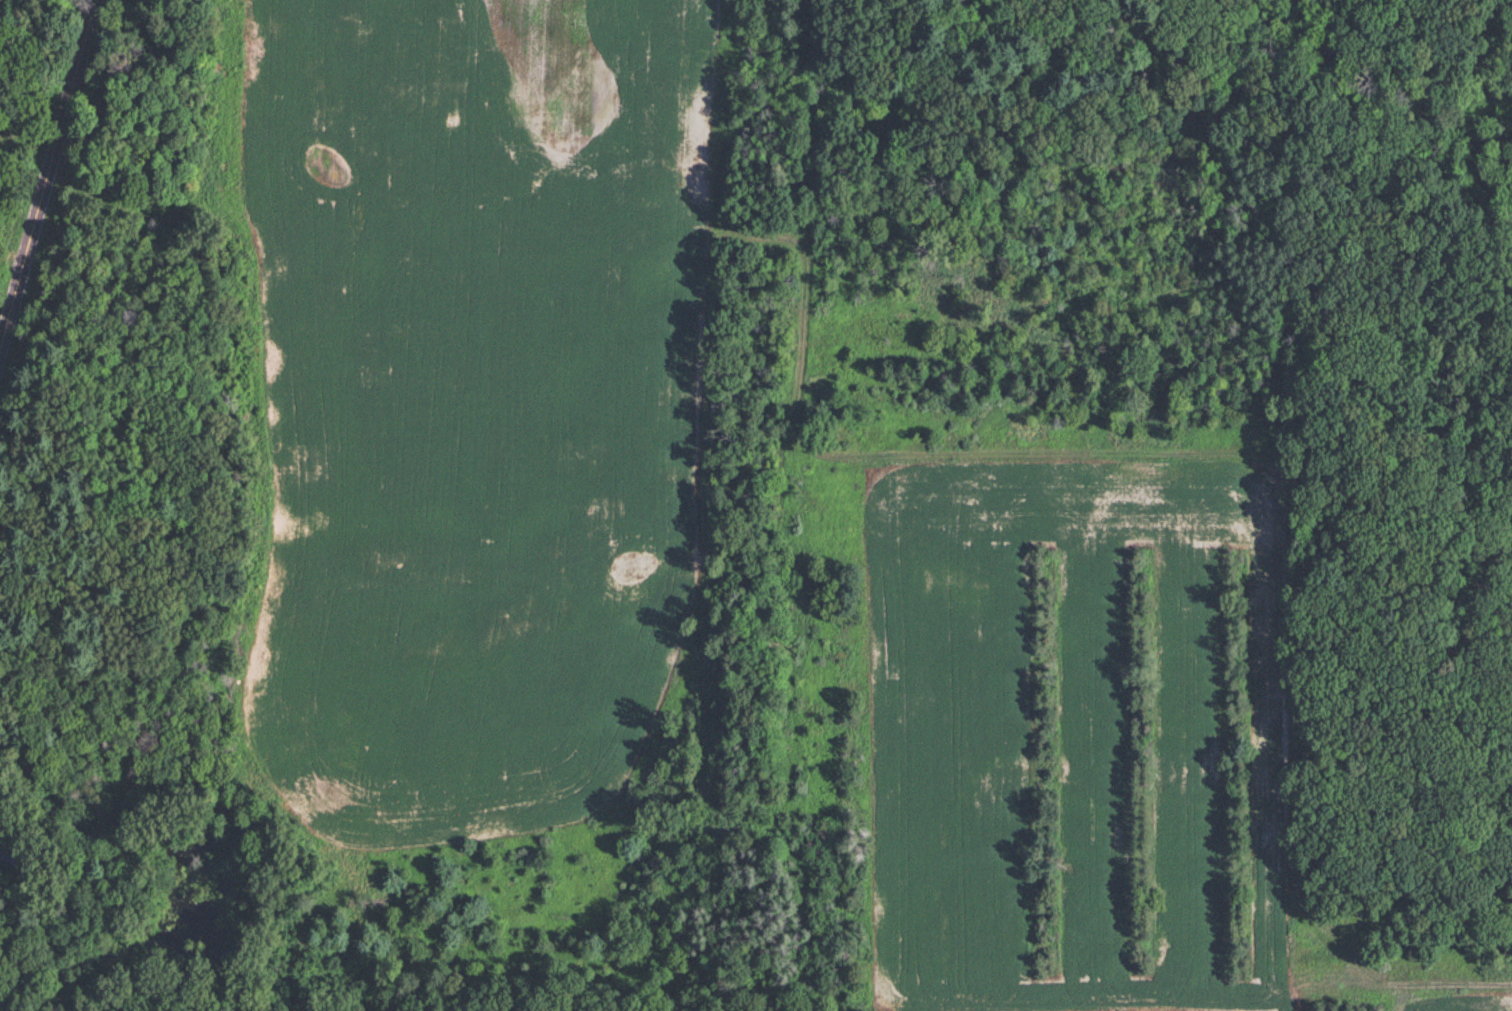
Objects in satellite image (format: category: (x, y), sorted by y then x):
road: (50, 185)

